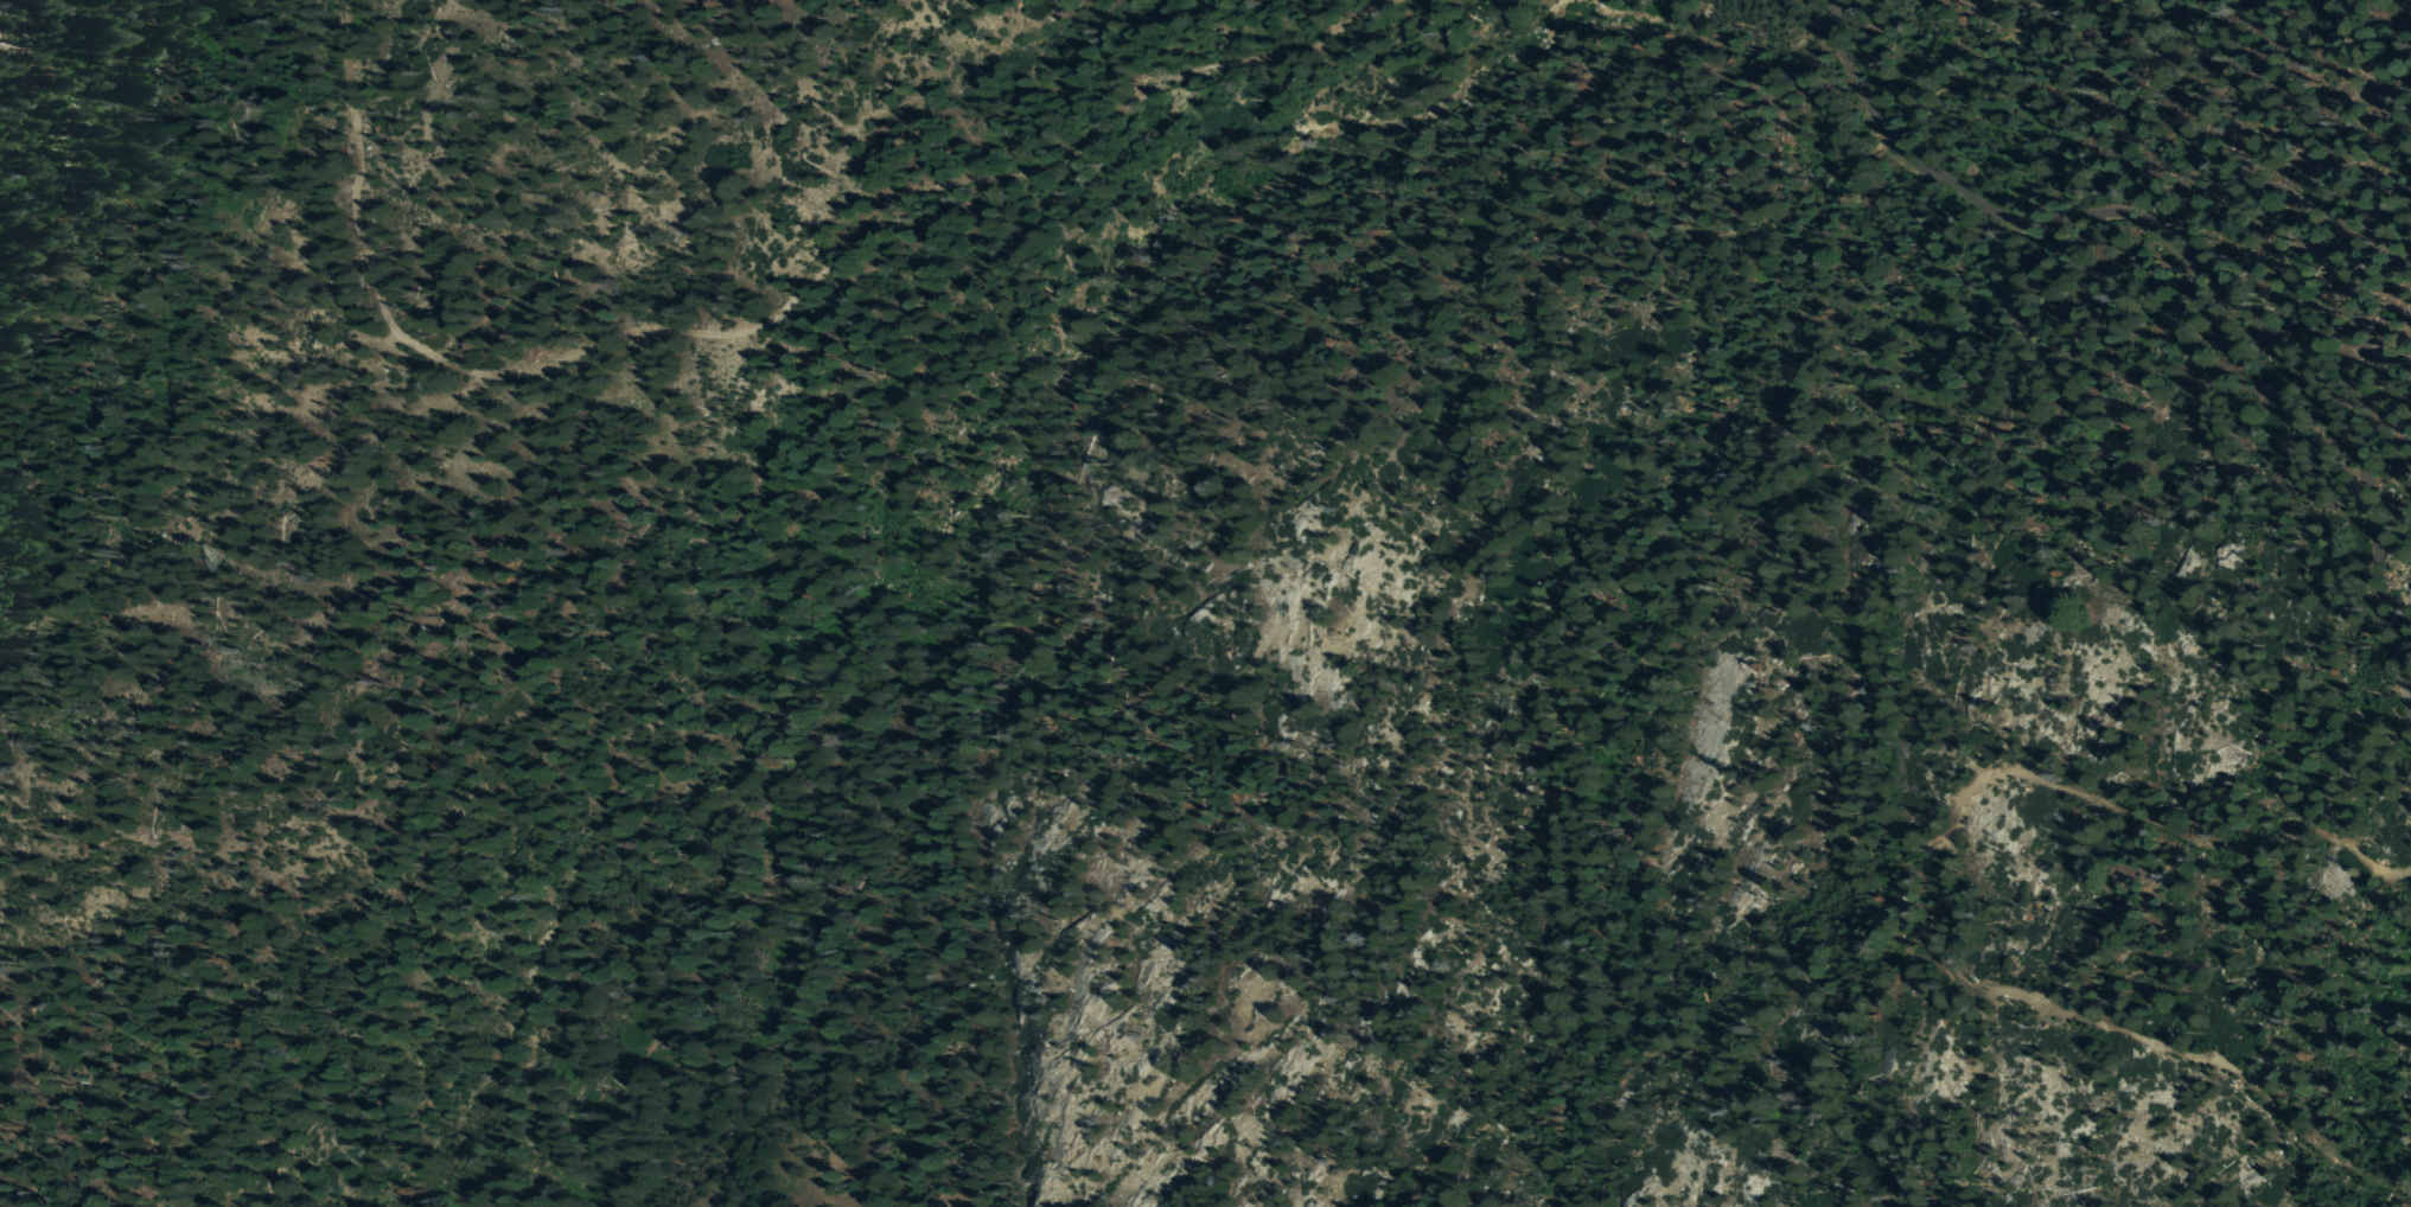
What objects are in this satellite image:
road: (2195, 273)
road: (1939, 903)

